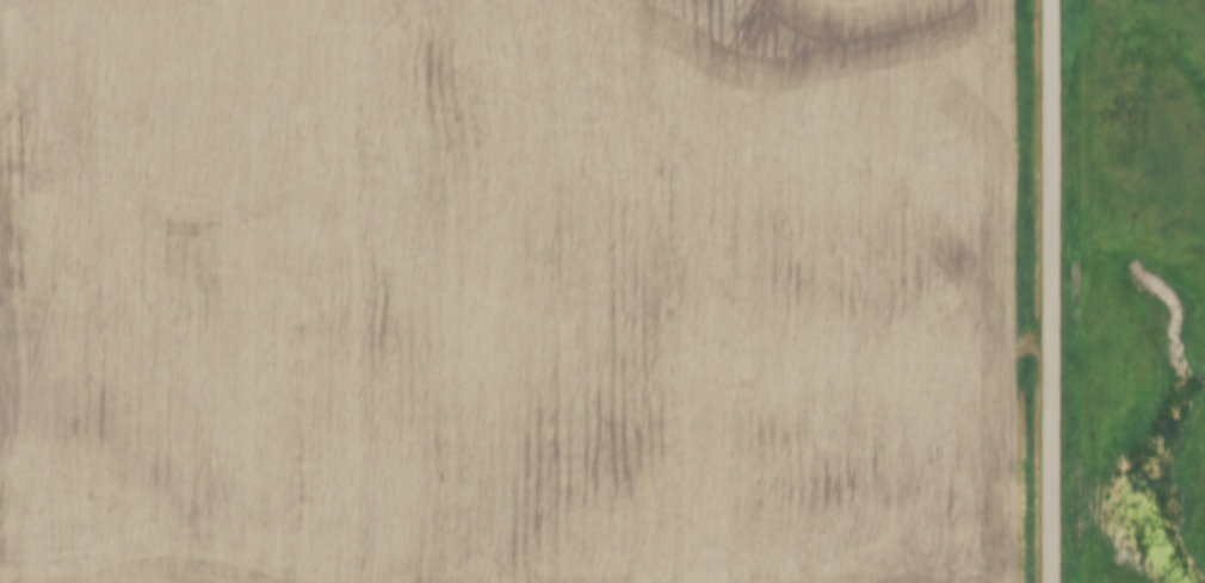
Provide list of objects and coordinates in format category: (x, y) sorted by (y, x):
road: (1055, 291)

